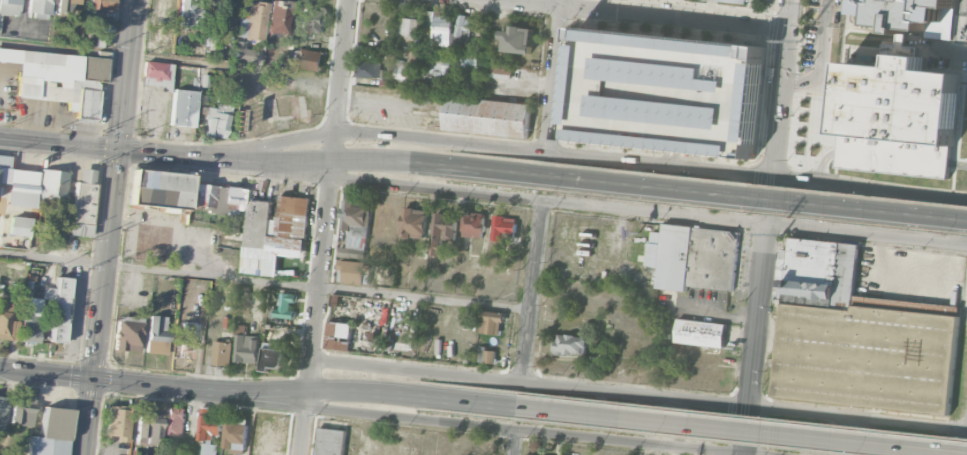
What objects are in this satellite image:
building: (734, 1)
building: (102, 4)
building: (66, 5)
building: (10, 7)
building: (39, 8)
building: (188, 13)
building: (912, 13)
road: (639, 15)
building: (279, 16)
building: (314, 19)
building: (254, 22)
building: (464, 27)
building: (442, 30)
building: (939, 30)
building: (408, 31)
building: (98, 33)
building: (517, 39)
power tower: (800, 40)
road: (63, 49)
building: (245, 53)
road: (819, 58)
building: (309, 59)
building: (369, 68)
building: (407, 70)
building: (157, 71)
building: (497, 71)
building: (438, 72)
building: (472, 72)
road: (124, 75)
road: (554, 76)
road: (339, 78)
building: (59, 79)
road: (783, 87)
building: (665, 93)
building: (183, 108)
building: (487, 116)
building: (898, 118)
building: (217, 121)
road: (58, 144)
traffic signals: (117, 150)
road: (580, 155)
road: (323, 158)
building: (18, 185)
building: (51, 187)
building: (159, 190)
building: (218, 198)
road: (747, 198)
road: (771, 199)
building: (83, 202)
road: (580, 203)
building: (414, 222)
building: (473, 225)
building: (19, 226)
building: (503, 226)
building: (355, 228)
building: (443, 231)
building: (275, 233)
building: (694, 257)
road: (105, 264)
building: (351, 271)
building: (819, 272)
road: (265, 280)
road: (531, 290)
building: (47, 293)
building: (284, 306)
road: (317, 306)
building: (59, 309)
road: (721, 314)
road: (758, 314)
building: (31, 320)
building: (5, 321)
building: (492, 324)
building: (700, 332)
building: (128, 333)
building: (189, 334)
building: (157, 335)
building: (339, 335)
building: (570, 344)
building: (246, 345)
building: (222, 353)
building: (864, 354)
building: (487, 355)
road: (46, 373)
traffic signals: (92, 378)
road: (304, 390)
road: (639, 393)
building: (22, 411)
building: (2, 412)
road: (87, 416)
building: (175, 422)
building: (118, 424)
road: (484, 426)
building: (149, 428)
road: (742, 429)
road: (744, 430)
building: (51, 433)
building: (236, 434)
road: (965, 436)
building: (330, 441)
road: (515, 442)

